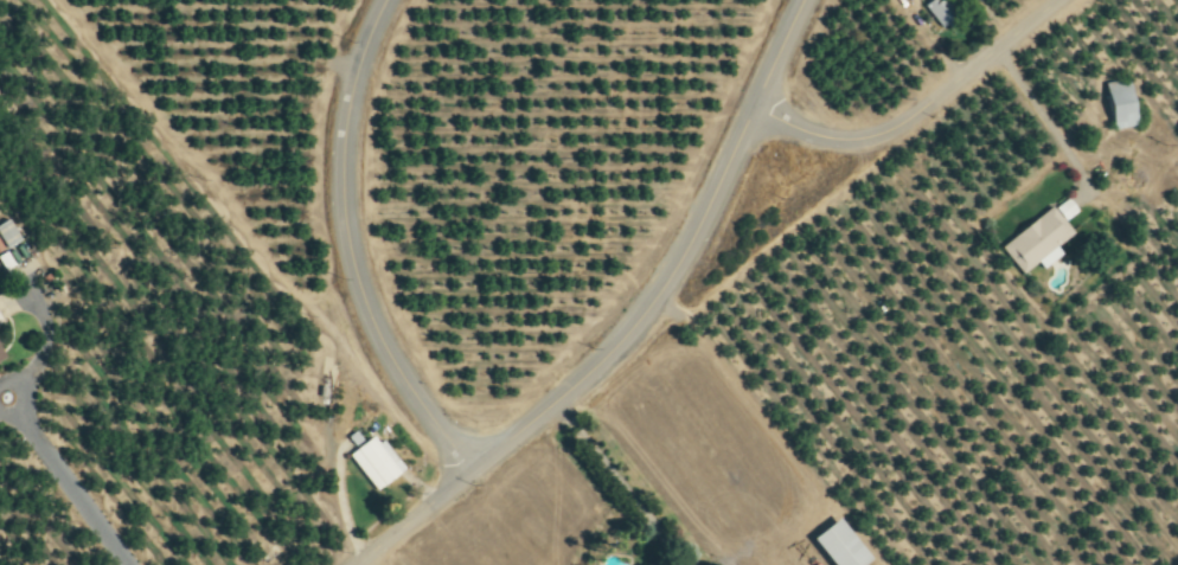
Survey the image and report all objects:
building: (935, 11)
building: (1116, 103)
road: (921, 110)
road: (1046, 123)
building: (6, 235)
building: (1033, 240)
road: (350, 248)
road: (636, 327)
building: (372, 461)
road: (66, 477)
road: (620, 484)
building: (833, 545)

